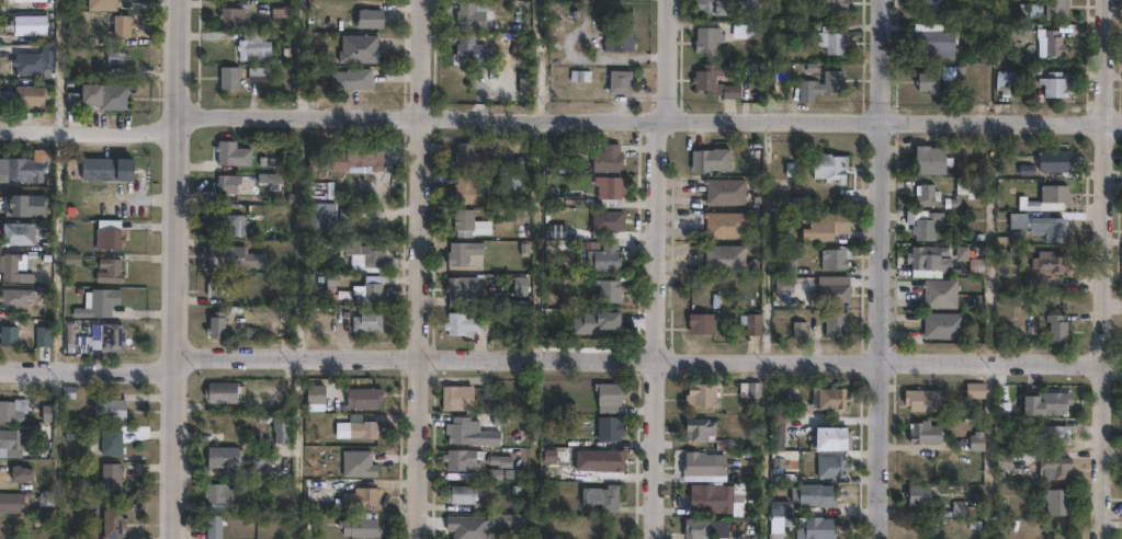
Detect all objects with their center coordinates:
building: (100, 2)
building: (926, 4)
building: (831, 5)
building: (711, 7)
building: (1053, 8)
building: (749, 9)
building: (277, 12)
building: (468, 13)
building: (228, 16)
building: (367, 18)
building: (118, 22)
building: (30, 24)
building: (705, 41)
building: (830, 41)
building: (617, 43)
building: (934, 44)
building: (250, 46)
building: (1050, 46)
building: (360, 48)
building: (467, 51)
building: (118, 58)
road: (534, 58)
building: (20, 59)
building: (257, 74)
building: (227, 78)
building: (349, 79)
building: (619, 82)
building: (713, 82)
building: (1005, 83)
building: (926, 84)
building: (818, 87)
building: (1053, 87)
building: (27, 92)
building: (103, 92)
road: (648, 117)
road: (90, 133)
building: (230, 152)
building: (930, 156)
building: (348, 157)
building: (466, 157)
building: (709, 157)
building: (1056, 157)
building: (605, 158)
building: (829, 163)
building: (23, 164)
building: (104, 168)
building: (225, 183)
building: (466, 188)
building: (725, 188)
building: (608, 190)
building: (928, 191)
building: (1047, 194)
building: (317, 213)
building: (609, 219)
building: (925, 219)
building: (725, 221)
building: (808, 221)
building: (467, 222)
building: (1041, 222)
building: (225, 223)
building: (19, 233)
building: (107, 234)
building: (364, 251)
building: (461, 252)
building: (724, 253)
building: (603, 255)
building: (835, 255)
building: (219, 256)
building: (928, 257)
building: (1050, 257)
building: (787, 261)
building: (253, 263)
building: (14, 267)
road: (655, 267)
road: (876, 268)
road: (173, 269)
road: (419, 269)
road: (1102, 269)
building: (109, 271)
building: (215, 287)
building: (608, 288)
building: (370, 289)
building: (461, 289)
building: (941, 289)
building: (831, 293)
building: (13, 297)
building: (97, 302)
building: (700, 318)
building: (751, 319)
building: (365, 320)
building: (943, 321)
building: (1058, 321)
building: (835, 322)
building: (460, 323)
building: (214, 324)
building: (8, 335)
building: (41, 336)
building: (110, 336)
road: (559, 360)
building: (750, 389)
building: (974, 390)
building: (220, 392)
building: (316, 393)
building: (699, 394)
building: (453, 397)
building: (610, 397)
building: (364, 398)
building: (831, 398)
building: (920, 399)
building: (1049, 403)
building: (11, 409)
building: (107, 409)
building: (279, 426)
building: (354, 427)
building: (610, 428)
building: (698, 428)
building: (777, 428)
building: (465, 431)
building: (922, 433)
building: (1049, 434)
building: (829, 437)
building: (976, 440)
building: (109, 441)
building: (9, 443)
building: (458, 458)
building: (226, 460)
building: (605, 460)
building: (356, 463)
building: (497, 466)
building: (703, 467)
building: (831, 467)
building: (1053, 468)
building: (19, 473)
building: (109, 475)
building: (317, 489)
building: (460, 493)
building: (917, 494)
building: (814, 495)
building: (362, 496)
building: (603, 496)
building: (220, 497)
building: (713, 498)
building: (11, 501)
building: (1055, 501)
building: (775, 518)
building: (109, 524)
building: (358, 525)
building: (465, 525)
building: (214, 526)
building: (696, 528)
building: (814, 528)

